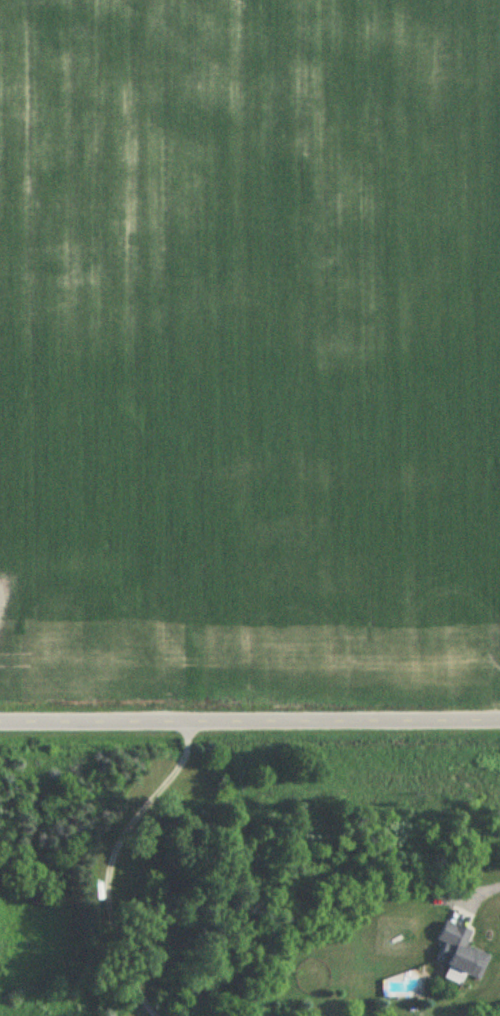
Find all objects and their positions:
road: (250, 718)
road: (112, 861)
road: (493, 883)
building: (459, 951)

